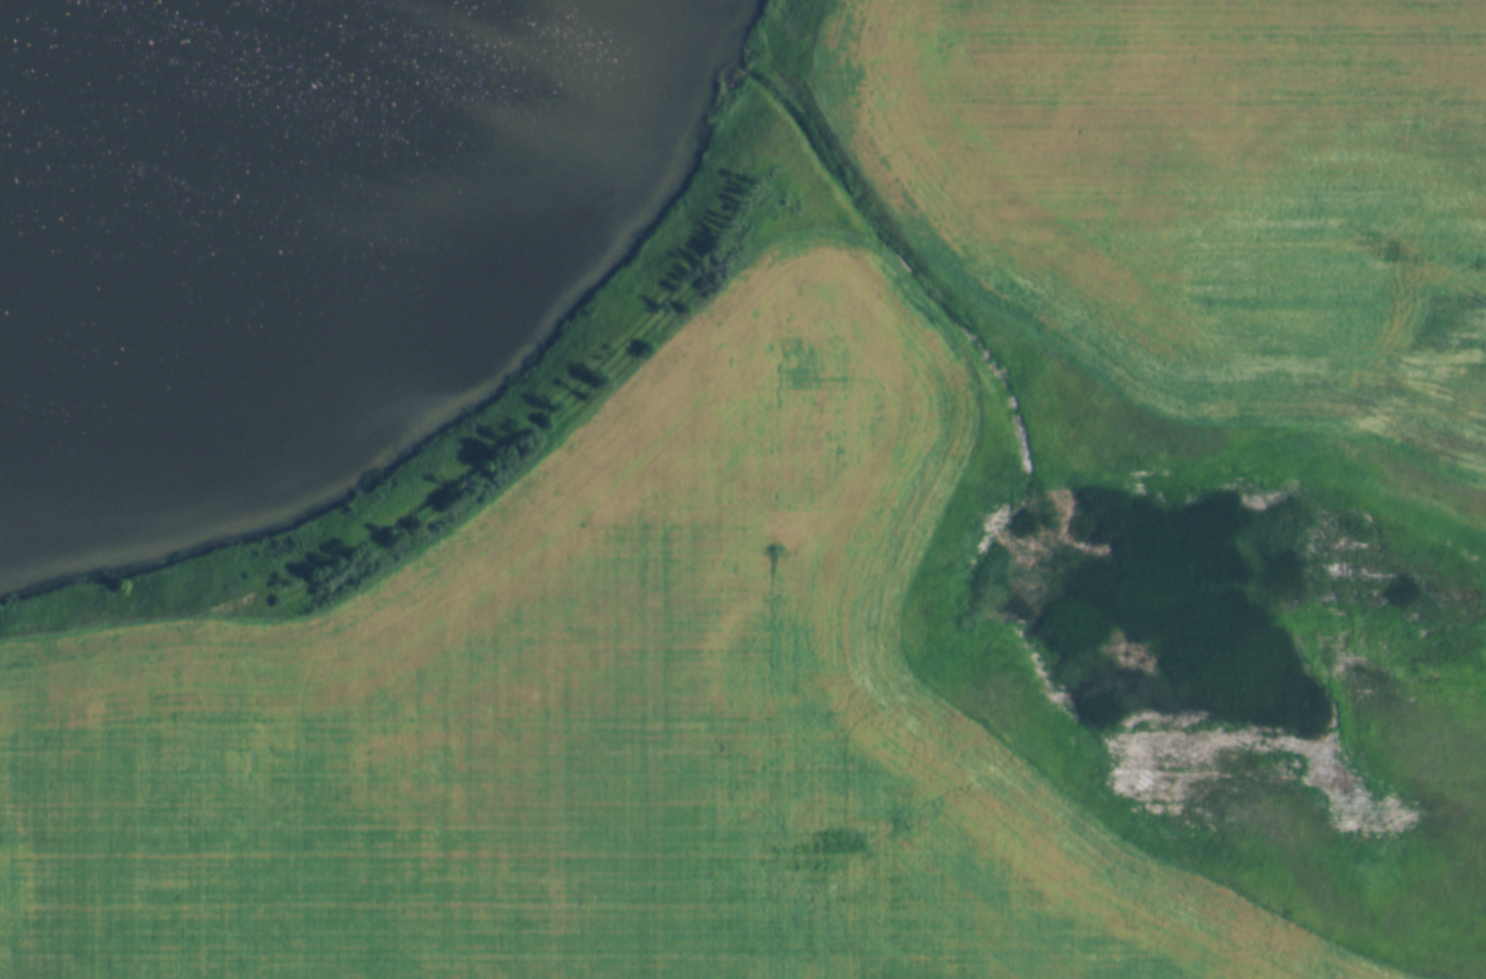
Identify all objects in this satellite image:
crop: (1206, 191)
crop: (595, 721)

